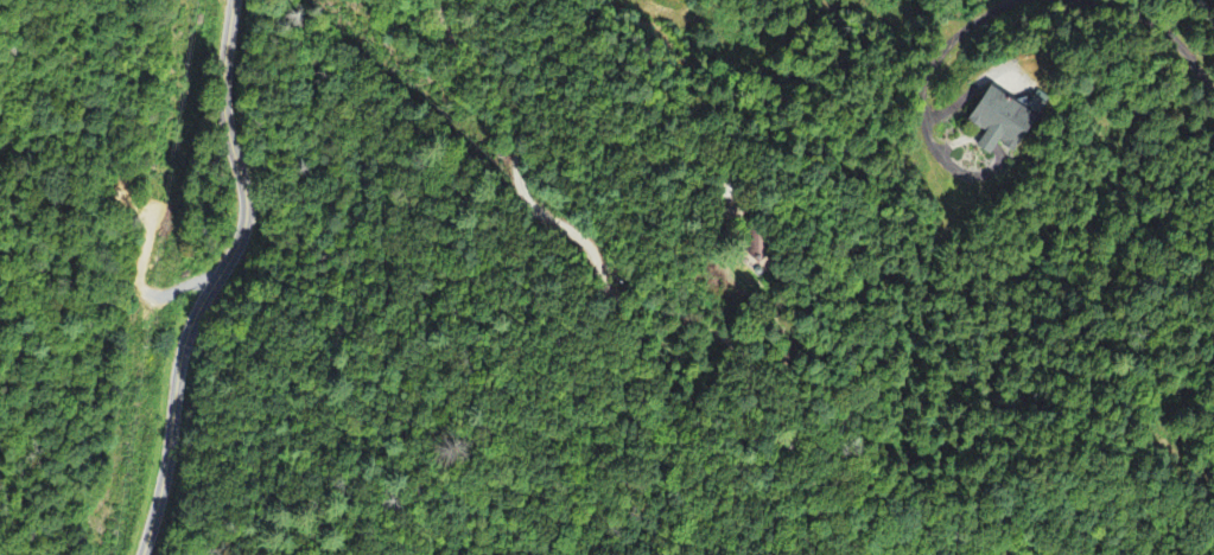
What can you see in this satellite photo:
road: (1207, 9)
building: (1006, 122)
road: (209, 277)

